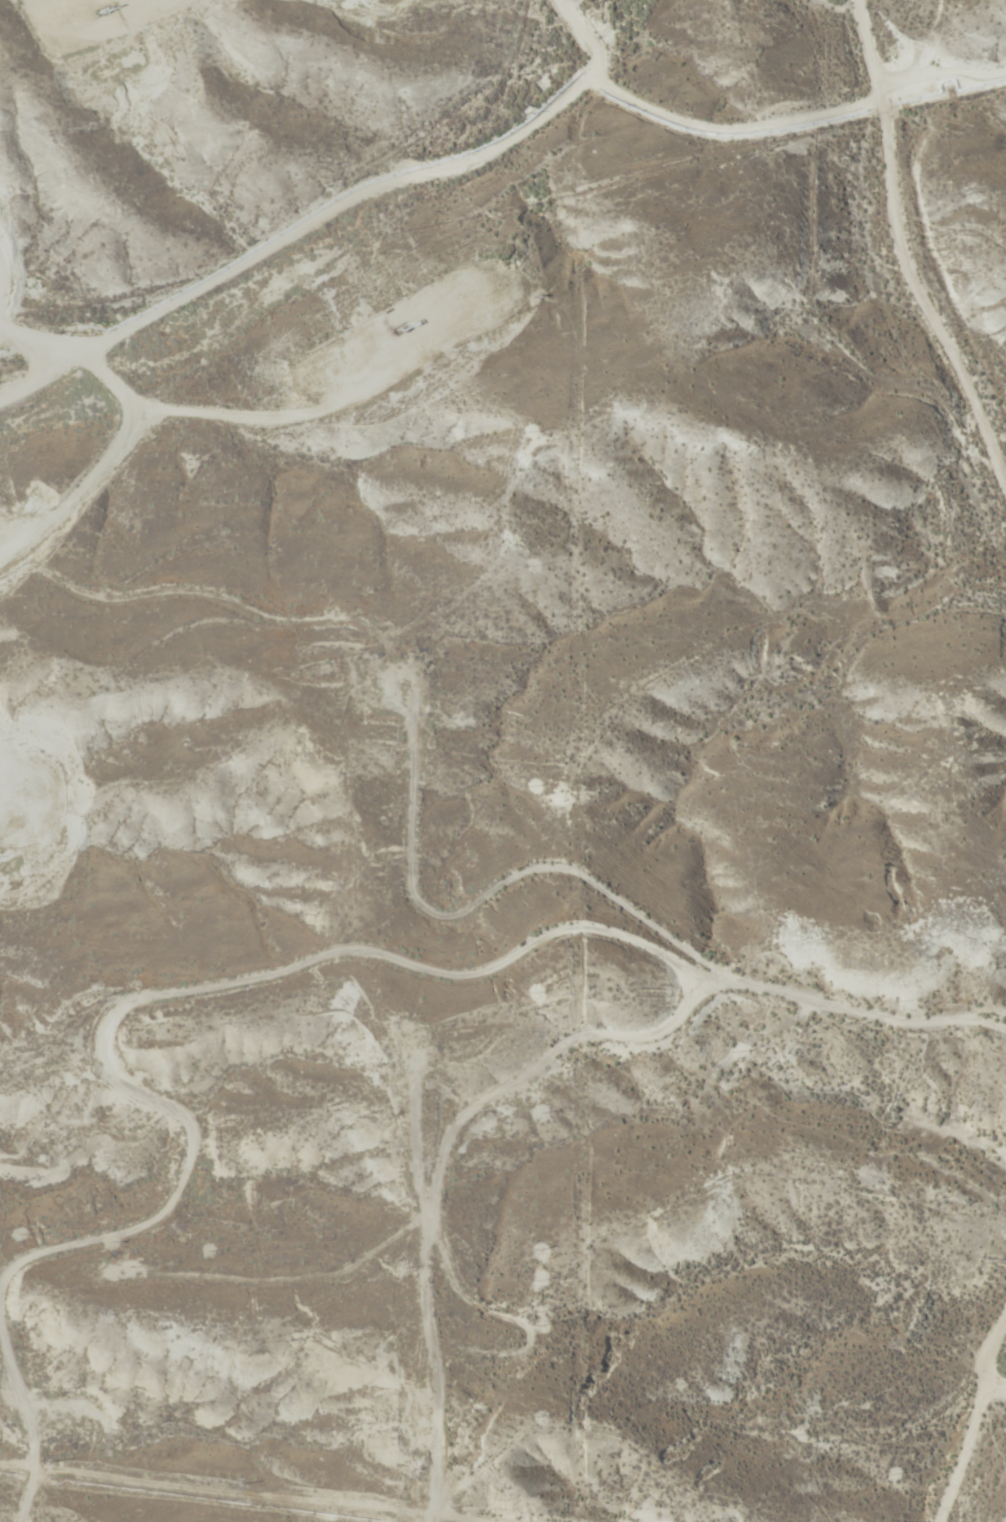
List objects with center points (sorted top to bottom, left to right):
road: (326, 212)
road: (908, 239)
road: (56, 314)
road: (858, 370)
road: (467, 974)
road: (720, 996)
road: (42, 1271)
road: (971, 1357)
road: (947, 1445)

